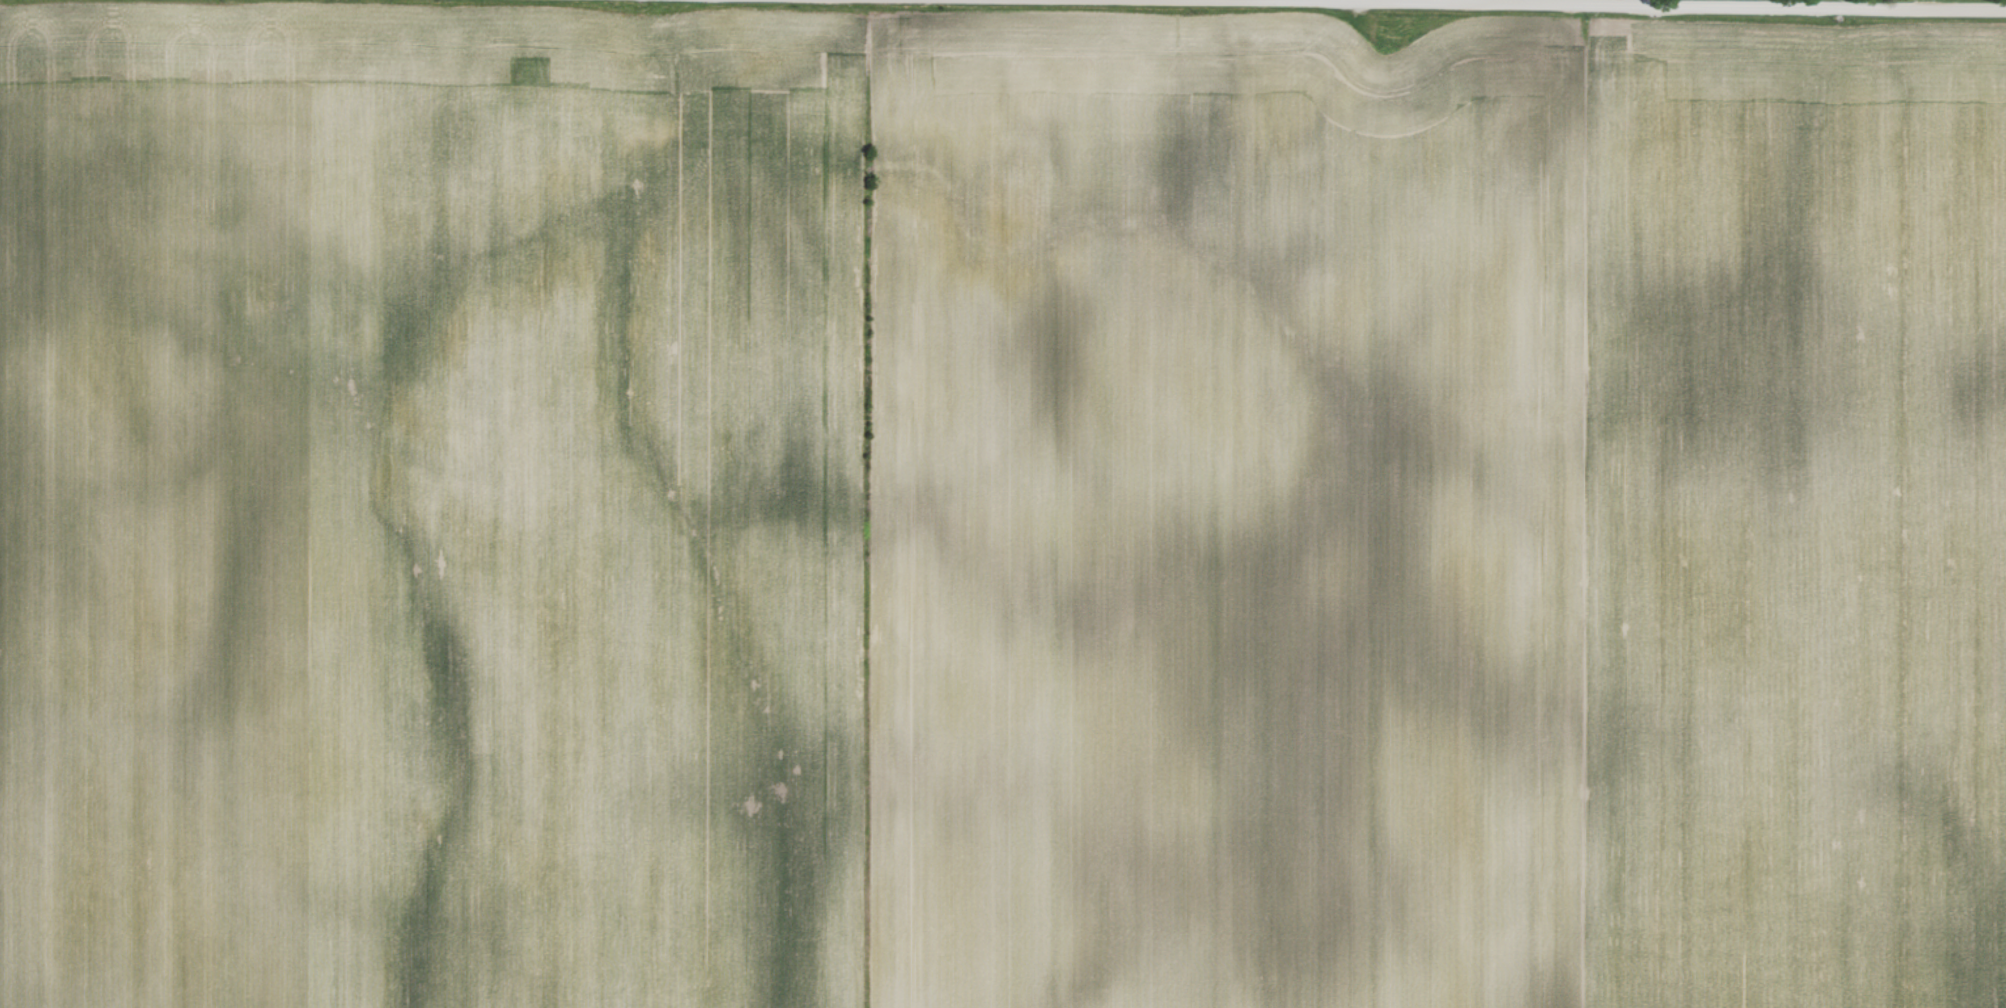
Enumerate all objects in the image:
road: (1348, 1)
road: (1635, 2)
road: (1587, 4)

